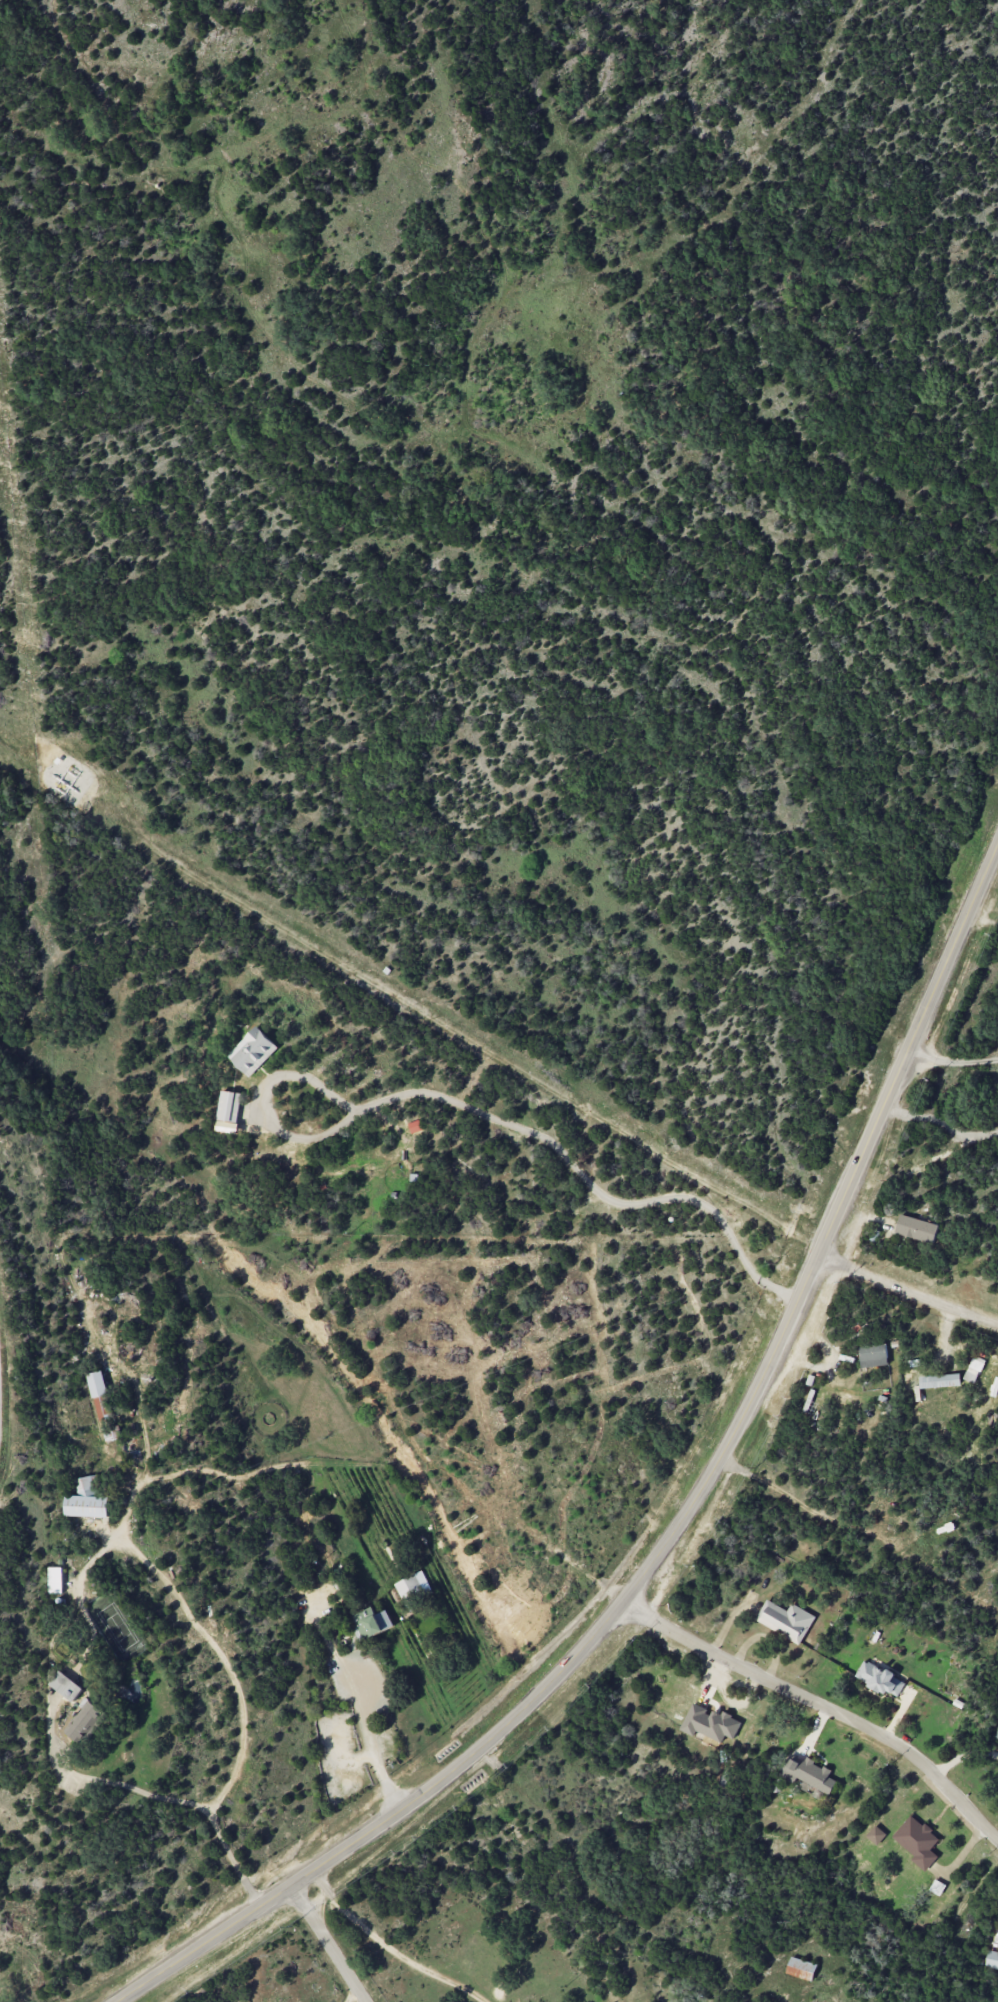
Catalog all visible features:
building: (253, 1051)
road: (953, 1064)
building: (229, 1106)
road: (943, 1123)
building: (414, 1126)
road: (571, 1163)
building: (916, 1228)
road: (908, 1290)
building: (873, 1355)
building: (971, 1375)
building: (939, 1380)
building: (101, 1393)
road: (142, 1429)
building: (112, 1432)
building: (88, 1499)
road: (681, 1523)
building: (55, 1580)
building: (409, 1587)
building: (786, 1620)
building: (371, 1622)
road: (226, 1665)
building: (880, 1679)
building: (66, 1686)
road: (822, 1706)
road: (357, 1707)
building: (84, 1721)
building: (710, 1723)
building: (997, 1735)
building: (808, 1773)
road: (118, 1785)
building: (876, 1835)
building: (917, 1841)
road: (328, 1944)
road: (389, 1949)
building: (992, 1960)
building: (801, 1969)
road: (348, 1993)

